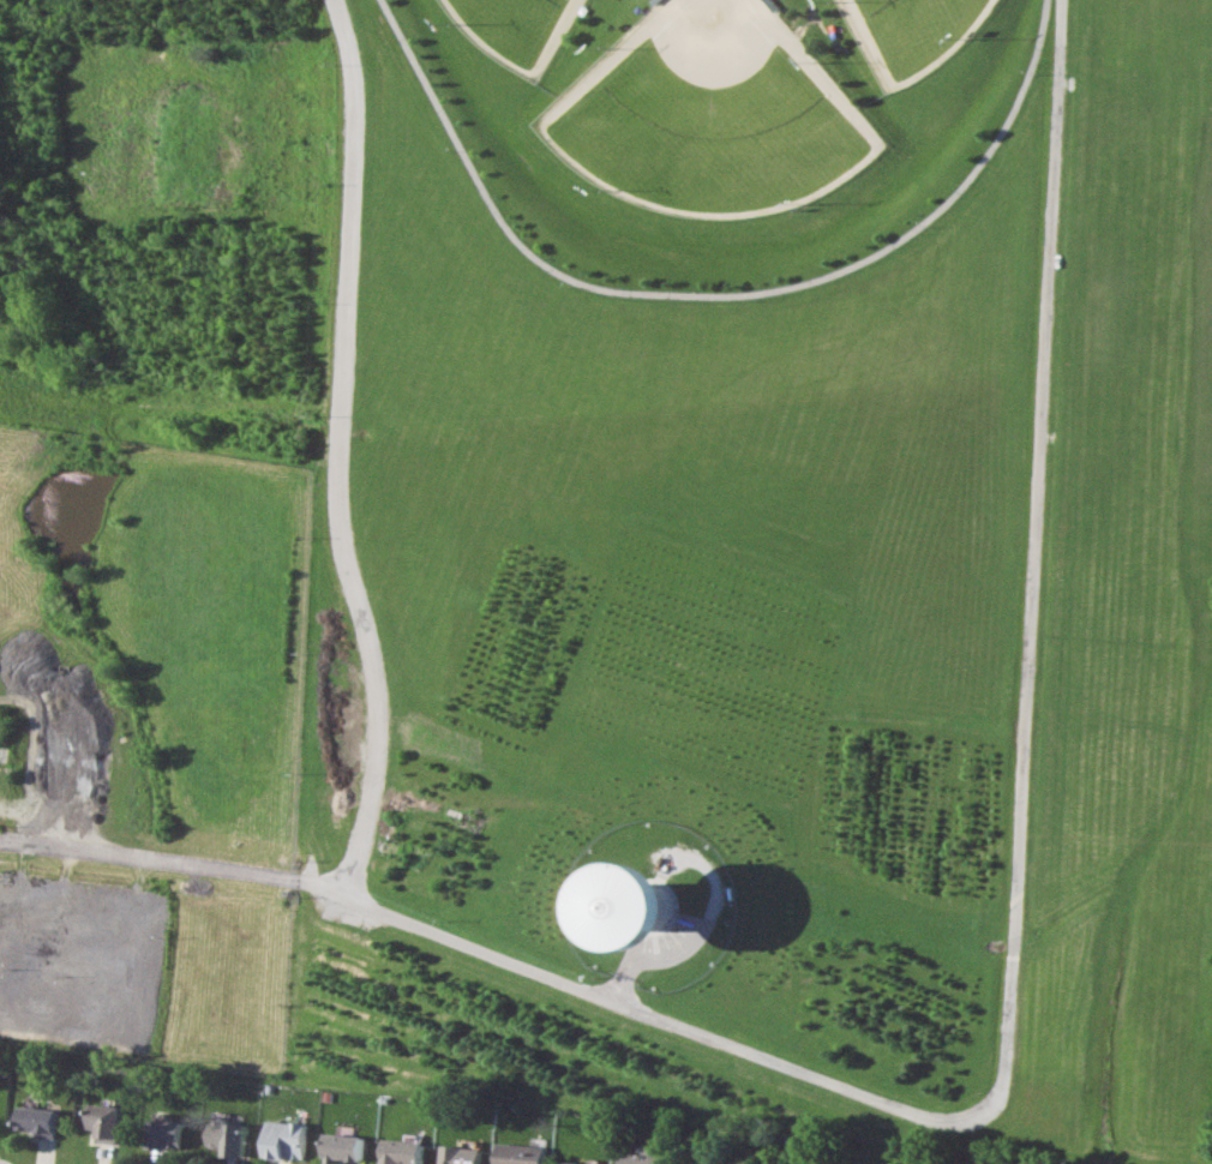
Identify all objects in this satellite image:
park: (521, 29)
park: (923, 34)
park: (714, 114)
road: (713, 296)
road: (338, 449)
road: (1037, 554)
park: (760, 566)
road: (7, 840)
water tower: (652, 898)
building: (649, 906)
road: (514, 961)
railway: (347, 1114)
building: (38, 1120)
building: (106, 1121)
building: (170, 1134)
building: (230, 1136)
building: (288, 1139)
building: (346, 1148)
building: (404, 1152)
building: (522, 1153)
building: (463, 1154)
building: (643, 1157)
building: (576, 1163)

